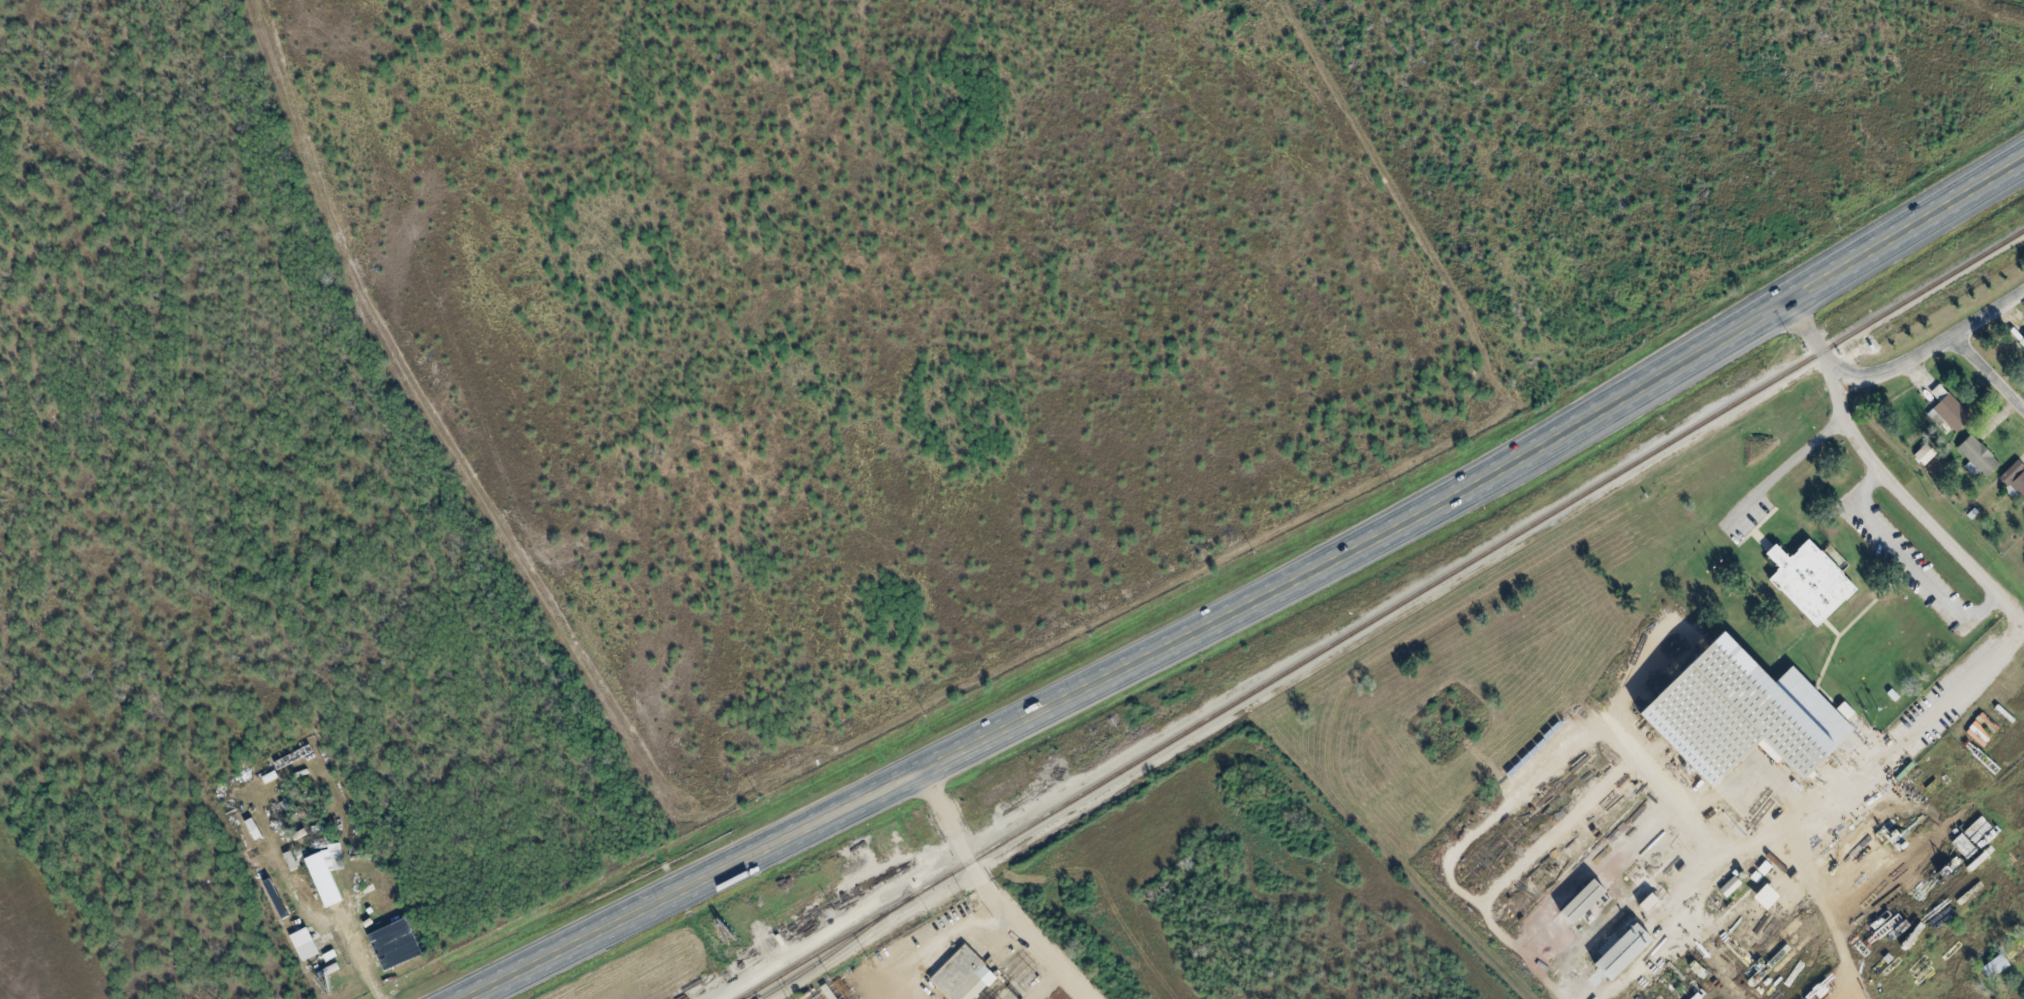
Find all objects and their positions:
road: (1997, 10)
building: (2021, 340)
road: (1899, 363)
road: (1988, 372)
building: (1948, 411)
building: (1926, 452)
building: (1979, 452)
road: (1791, 463)
building: (2013, 478)
building: (1973, 511)
building: (1807, 582)
road: (1255, 598)
road: (2012, 608)
railway: (1384, 614)
building: (1842, 710)
building: (1736, 713)
building: (303, 751)
road: (947, 816)
building: (247, 829)
building: (1972, 838)
building: (289, 857)
building: (324, 872)
building: (1728, 886)
building: (357, 891)
building: (352, 901)
building: (1577, 902)
building: (394, 925)
road: (1030, 931)
building: (305, 941)
building: (1618, 951)
building: (400, 958)
building: (319, 962)
building: (1992, 966)
building: (961, 976)
building: (344, 988)

